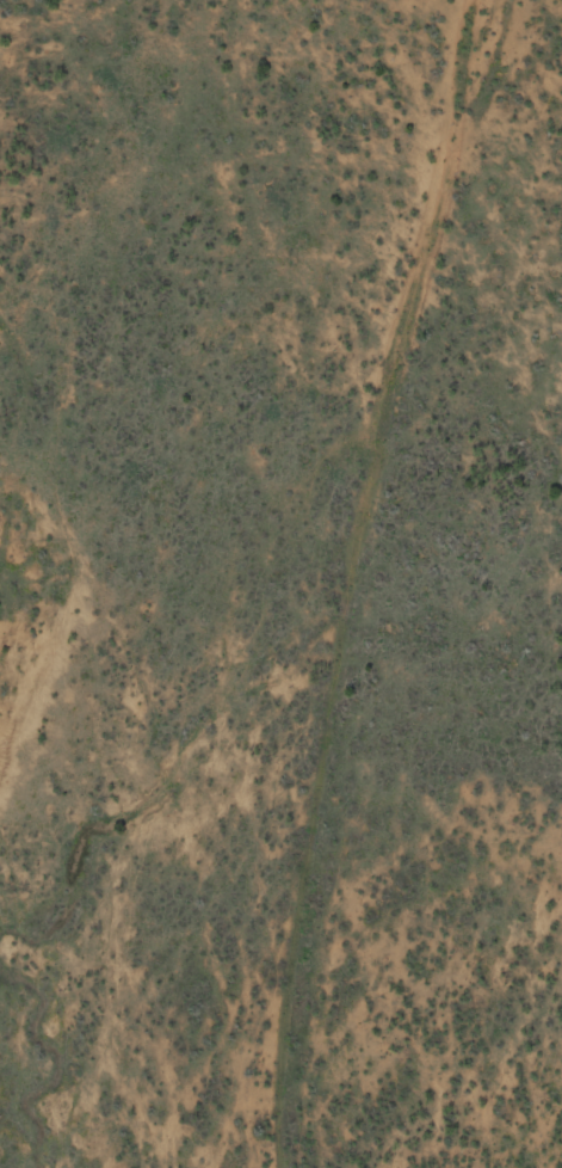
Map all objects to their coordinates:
road: (371, 579)

